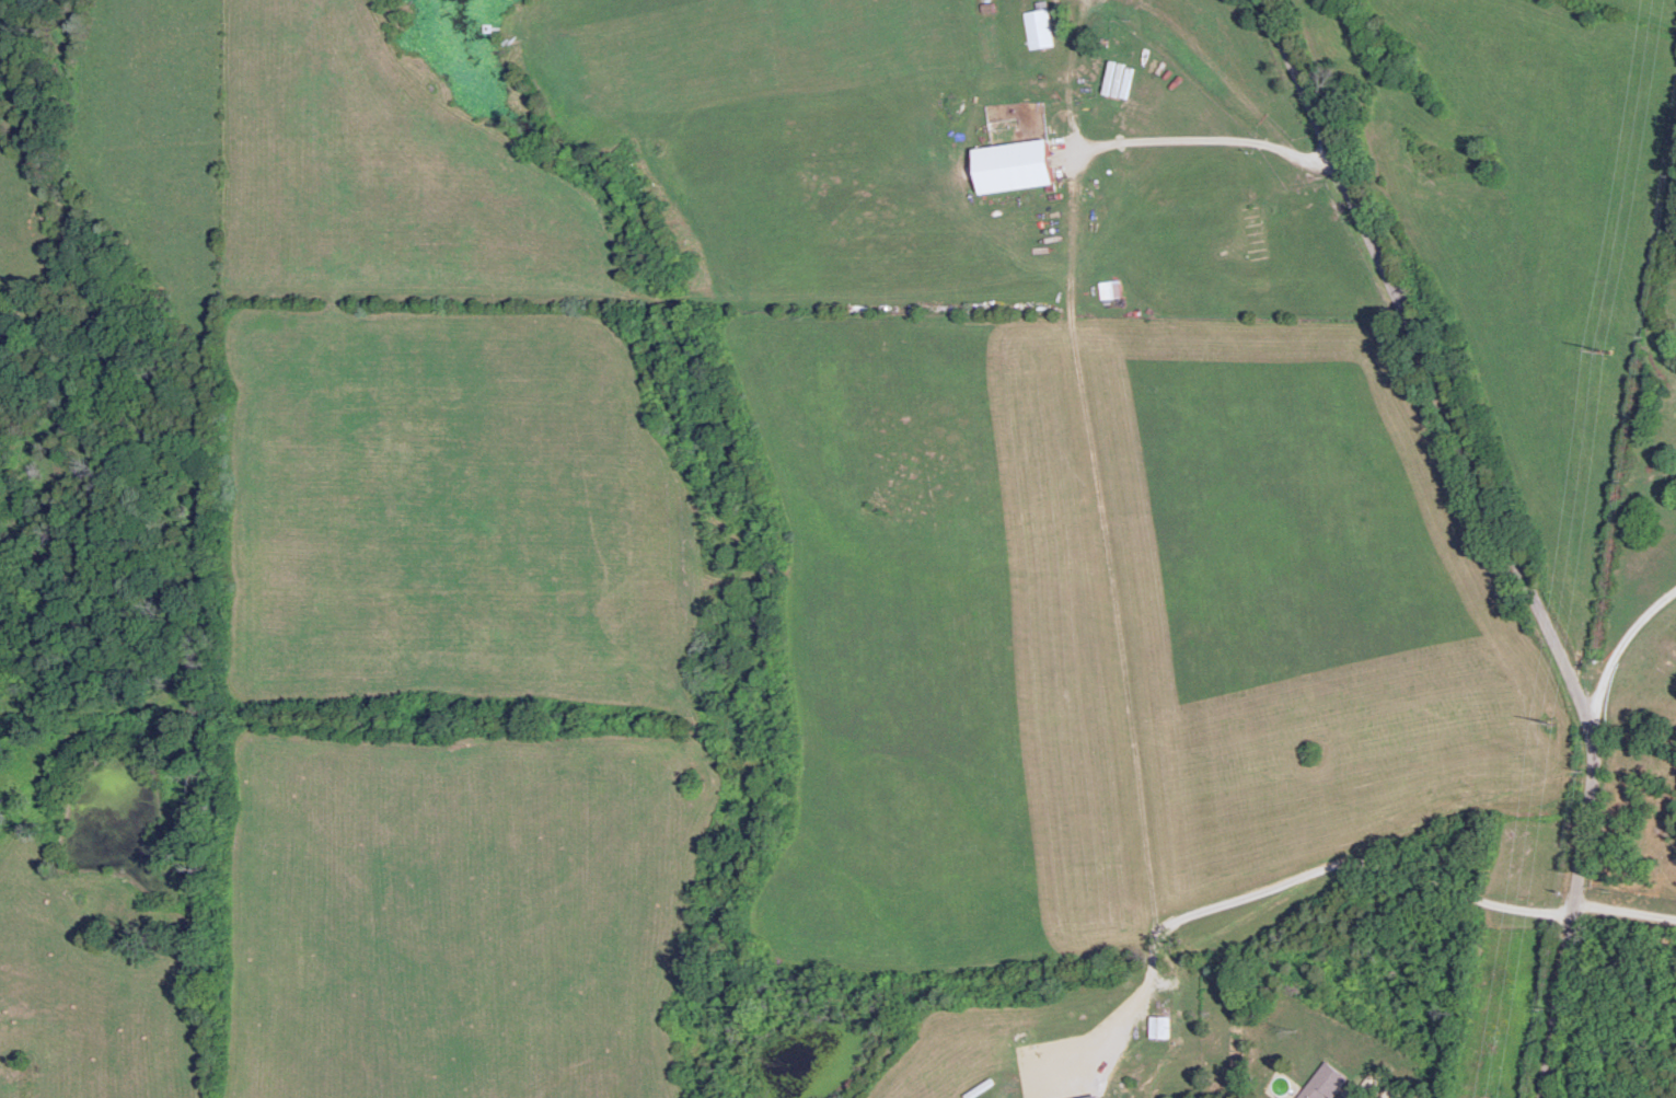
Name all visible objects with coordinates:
building: (1040, 27)
building: (1017, 165)
building: (1118, 289)
road: (1665, 483)
road: (1599, 524)
road: (1518, 539)
building: (1163, 1025)
building: (1103, 1029)
building: (1322, 1080)

